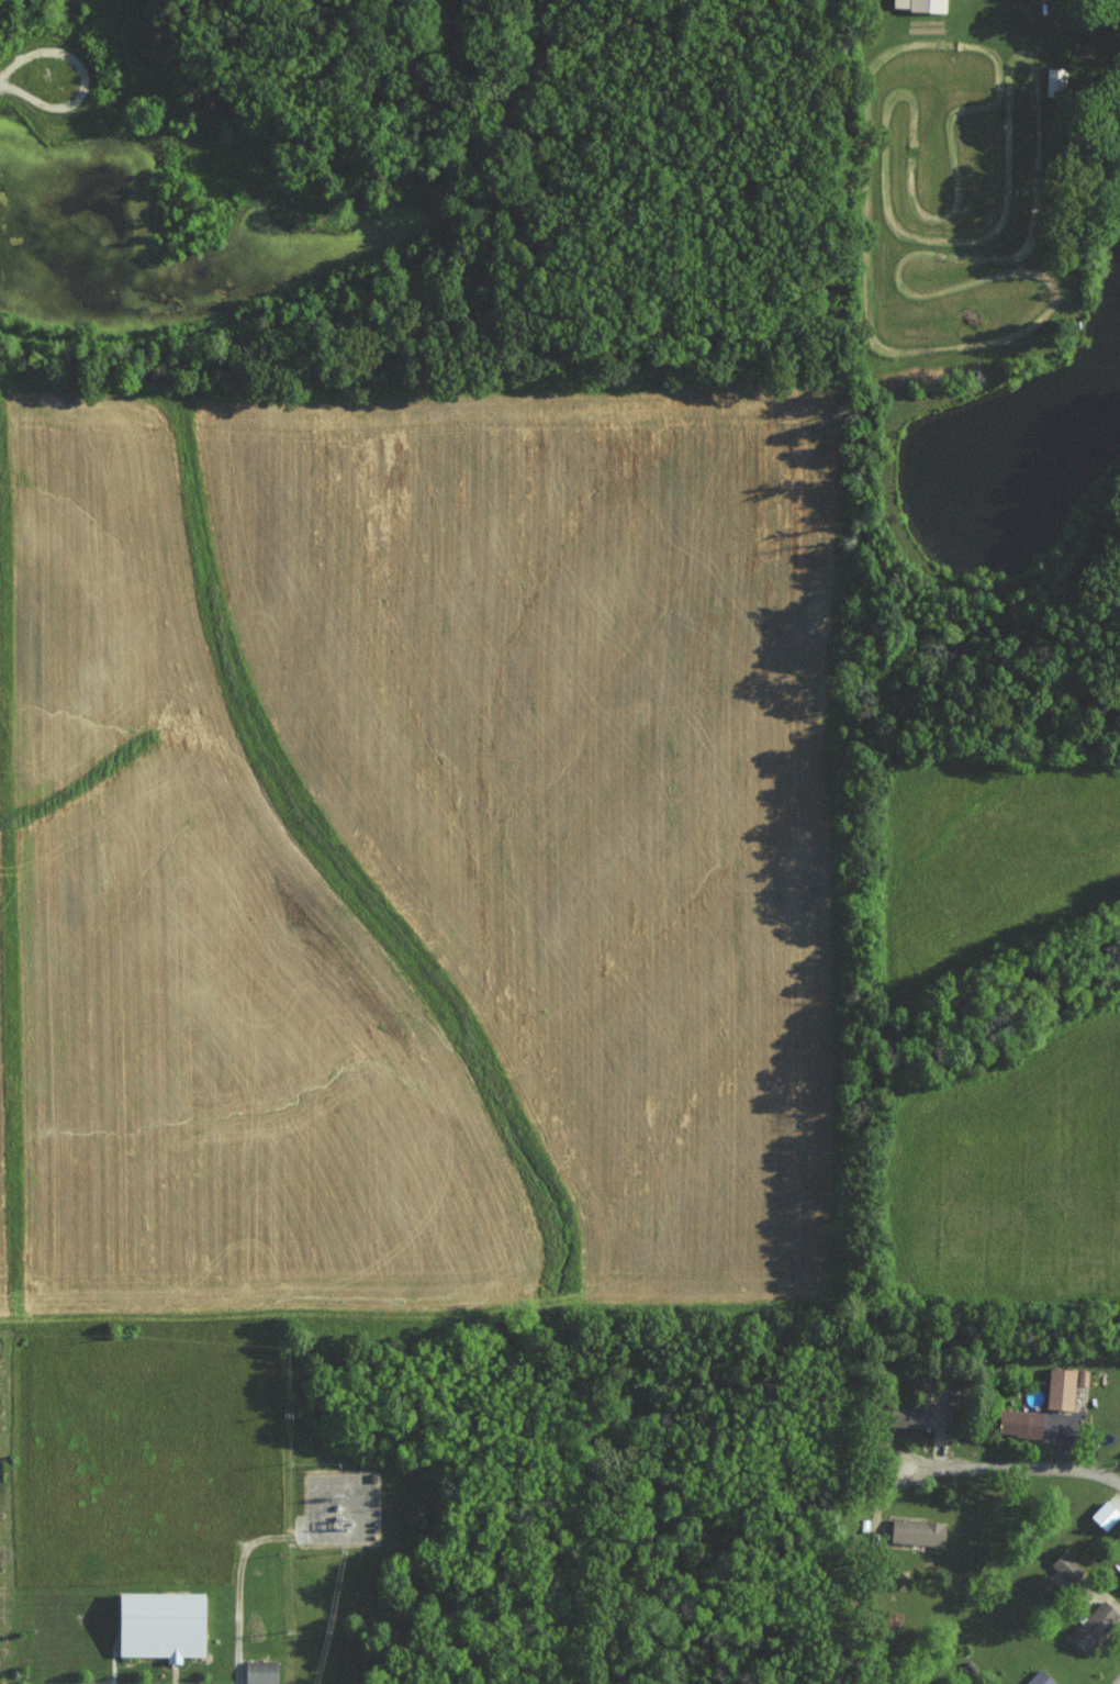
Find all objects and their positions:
building: (919, 4)
building: (1054, 79)
track: (949, 204)
building: (1060, 1389)
building: (918, 1414)
building: (1018, 1421)
road: (1019, 1468)
power substation: (343, 1508)
building: (1104, 1515)
building: (916, 1531)
building: (1063, 1563)
building: (1118, 1581)
building: (157, 1624)
building: (1093, 1625)
building: (98, 1643)
building: (259, 1672)
building: (1039, 1677)
road: (1118, 1682)

